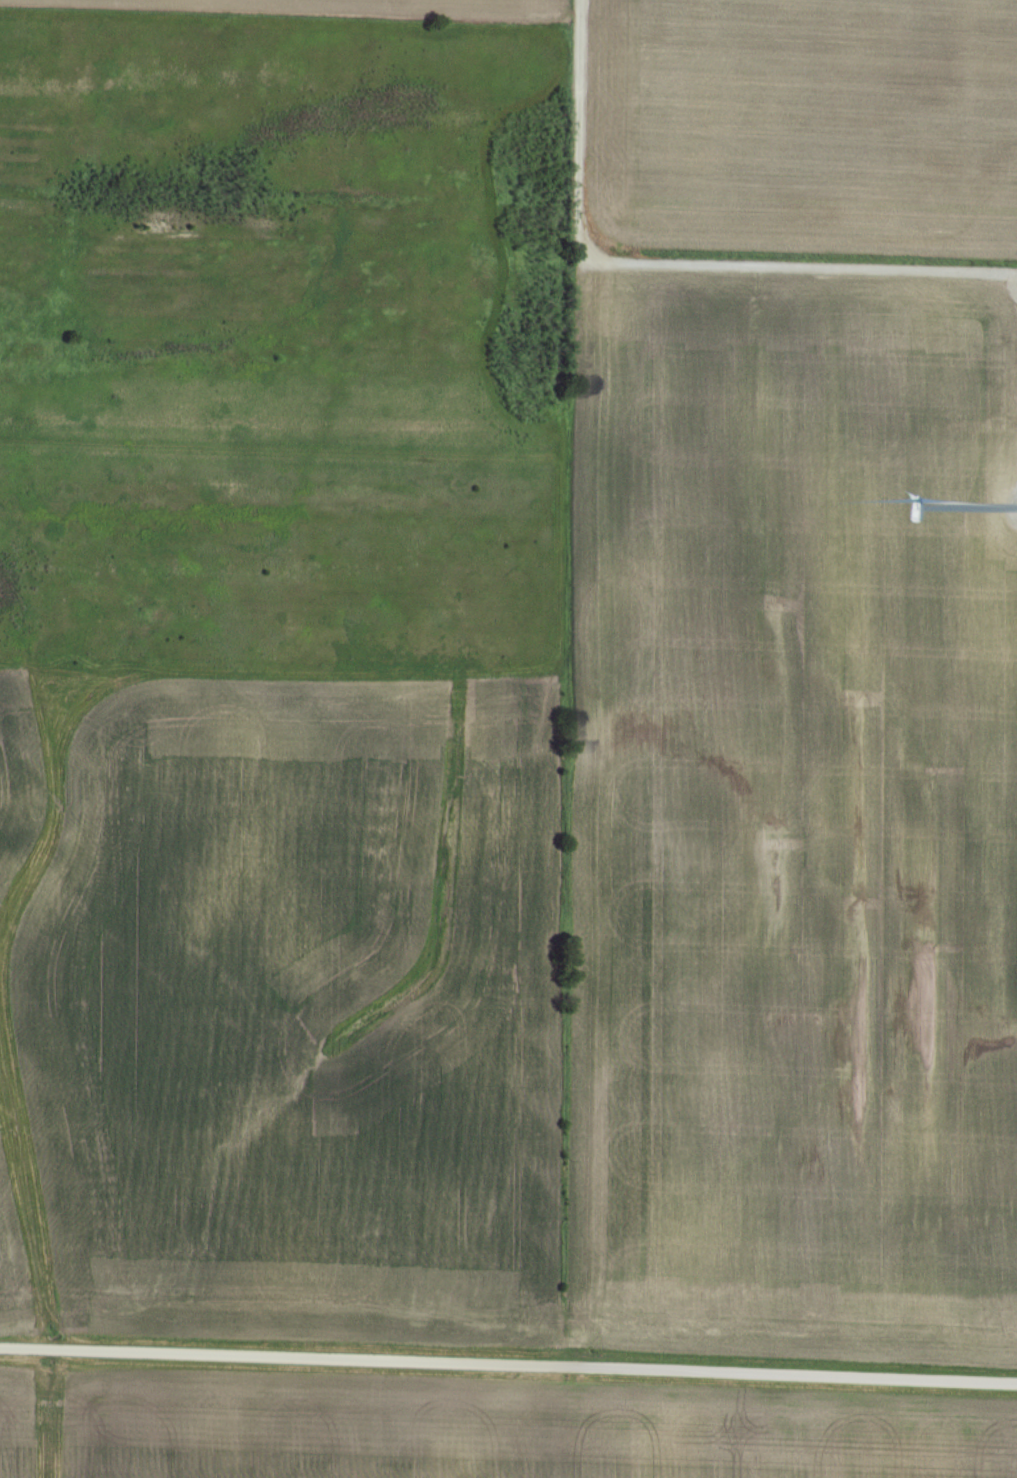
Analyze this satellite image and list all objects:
road: (667, 265)
wind turbine: (1012, 508)
road: (508, 1362)

